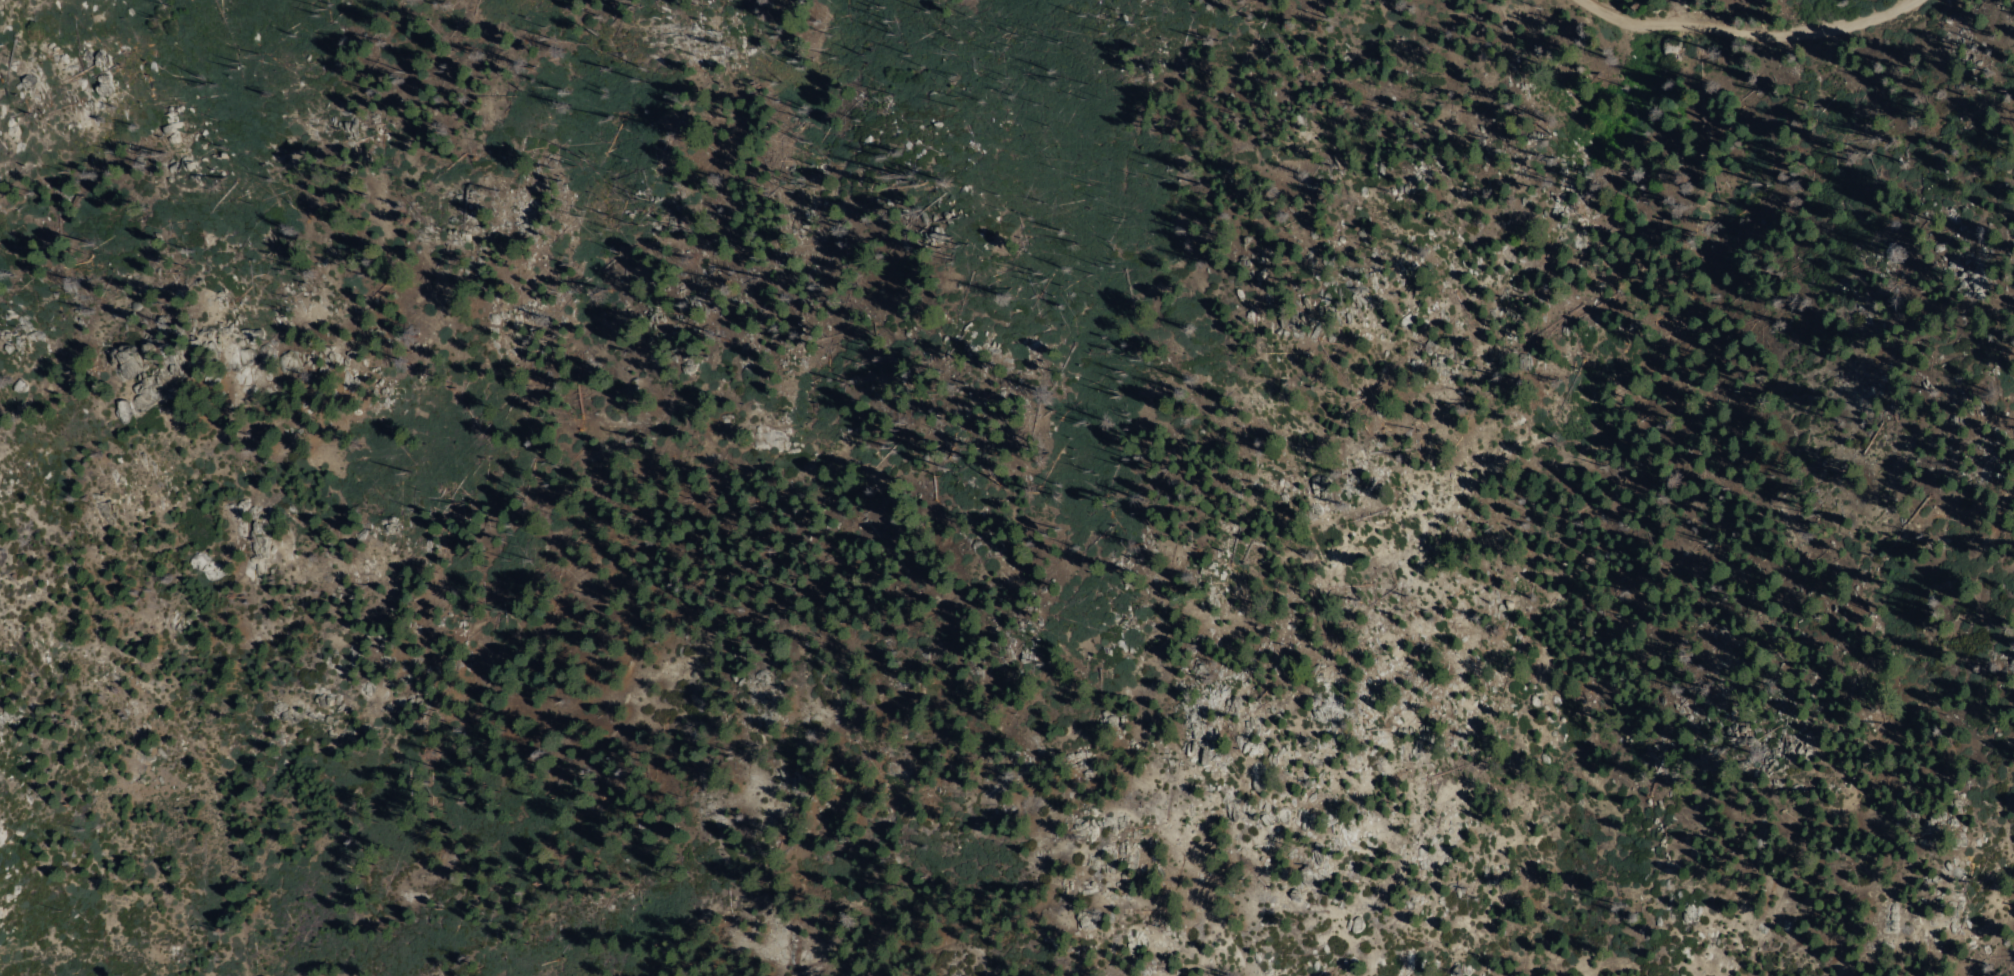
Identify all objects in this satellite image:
road: (1763, 27)

